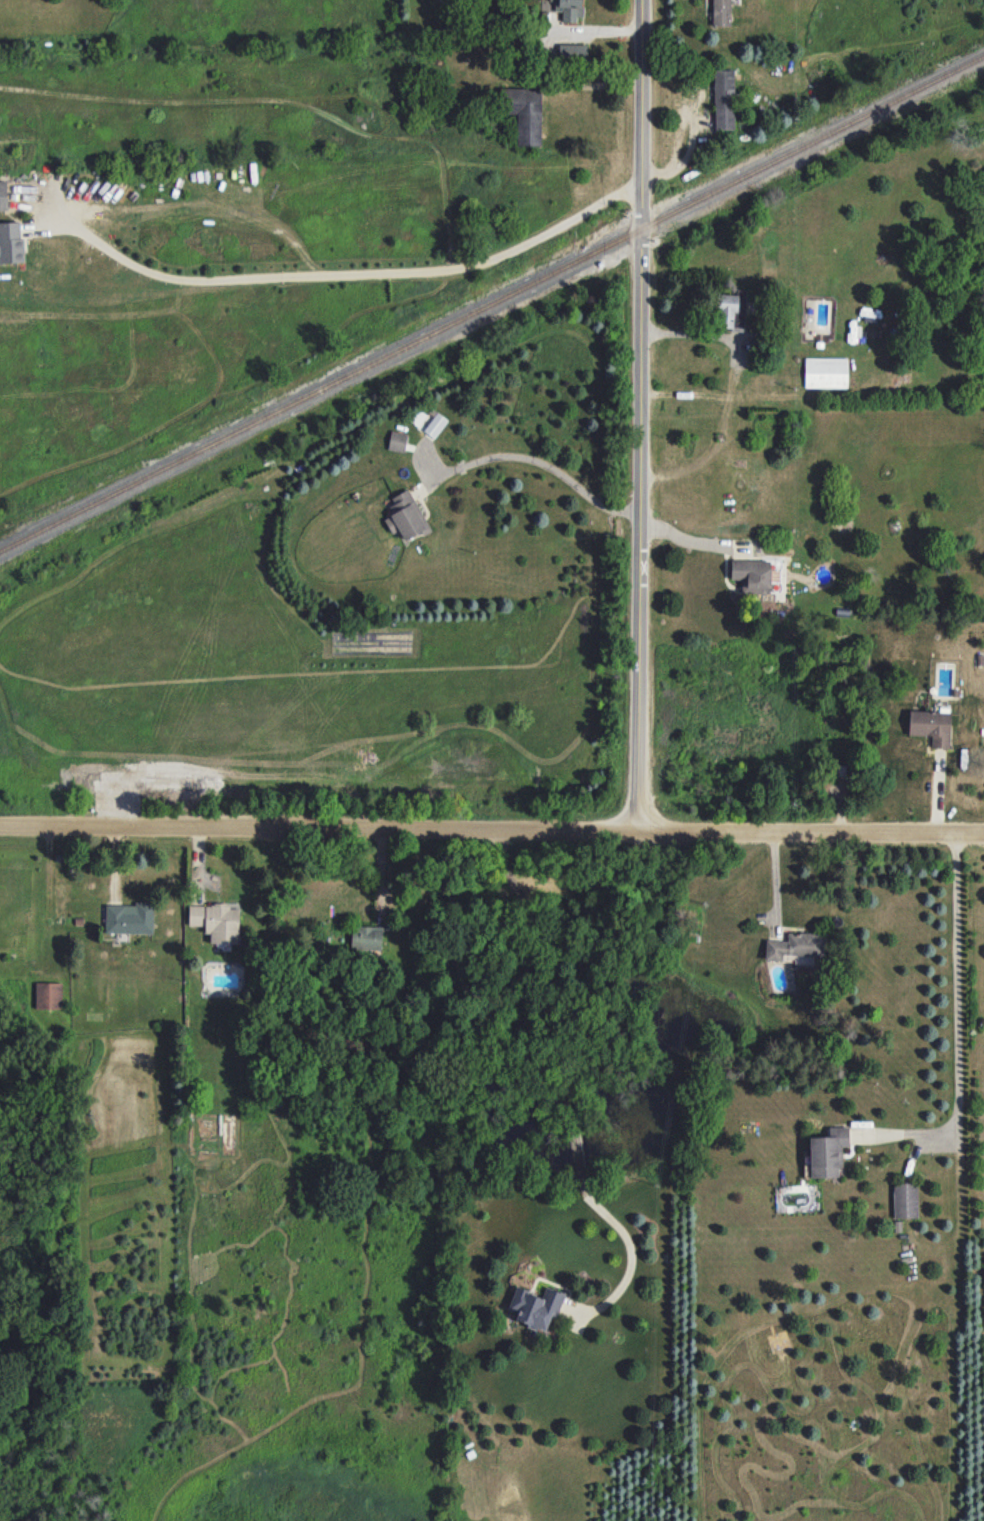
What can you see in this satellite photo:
building: (569, 9)
building: (720, 12)
building: (572, 52)
building: (723, 97)
building: (524, 113)
building: (3, 196)
building: (10, 242)
road: (350, 272)
railway: (493, 306)
building: (731, 309)
road: (691, 332)
building: (825, 372)
crop: (319, 413)
road: (638, 415)
building: (435, 425)
building: (397, 441)
road: (542, 462)
building: (405, 516)
road: (691, 539)
building: (752, 575)
building: (930, 726)
road: (492, 829)
building: (128, 918)
building: (216, 921)
building: (366, 937)
building: (795, 947)
building: (48, 995)
road: (956, 1024)
road: (562, 1081)
building: (827, 1152)
building: (905, 1200)
building: (535, 1306)

